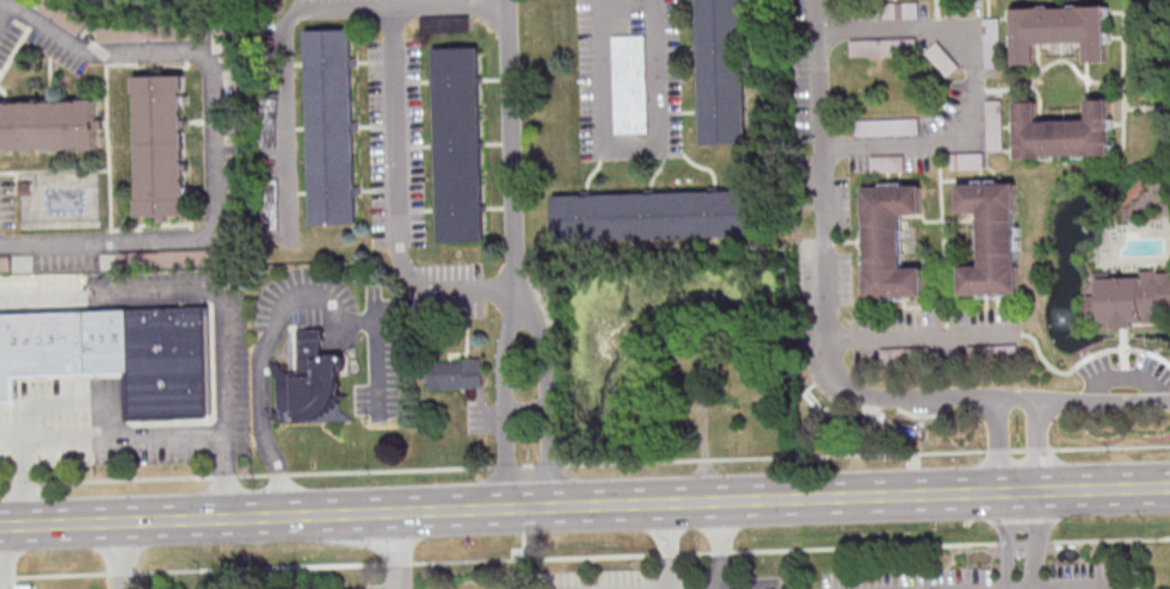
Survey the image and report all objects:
building: (901, 10)
road: (6, 15)
building: (63, 15)
road: (937, 15)
building: (445, 24)
building: (1060, 29)
building: (143, 32)
building: (991, 32)
road: (1115, 37)
road: (1123, 39)
building: (875, 45)
road: (1040, 56)
road: (1061, 60)
road: (287, 72)
building: (722, 72)
road: (1088, 80)
building: (632, 83)
road: (977, 91)
road: (1041, 99)
road: (1157, 106)
building: (267, 122)
road: (1116, 123)
building: (993, 124)
building: (49, 125)
building: (332, 125)
road: (1125, 125)
building: (1063, 131)
road: (393, 142)
road: (512, 142)
building: (460, 143)
building: (161, 144)
road: (629, 145)
road: (213, 148)
building: (966, 160)
building: (1147, 200)
building: (270, 204)
building: (652, 213)
road: (941, 219)
building: (993, 236)
building: (891, 240)
road: (846, 241)
road: (943, 241)
road: (860, 246)
building: (172, 256)
road: (943, 259)
building: (5, 263)
road: (516, 286)
road: (181, 297)
building: (1131, 298)
road: (1125, 335)
road: (922, 336)
building: (118, 355)
road: (377, 355)
road: (831, 355)
road: (1084, 359)
road: (263, 362)
road: (1126, 362)
building: (456, 373)
road: (1123, 377)
building: (309, 380)
road: (76, 405)
road: (121, 439)
road: (12, 440)
road: (1039, 444)
road: (995, 445)
road: (1111, 446)
road: (998, 448)
road: (1018, 448)
road: (1039, 448)
road: (848, 454)
road: (704, 459)
road: (632, 461)
road: (549, 463)
road: (509, 464)
road: (529, 464)
road: (393, 470)
road: (253, 473)
road: (279, 473)
road: (224, 475)
road: (105, 478)
road: (1106, 486)
road: (1018, 489)
road: (498, 508)
road: (1040, 538)
road: (1005, 539)
road: (1110, 540)
road: (1021, 541)
road: (1039, 541)
road: (1006, 542)
road: (671, 545)
road: (720, 545)
road: (867, 546)
road: (408, 550)
road: (721, 551)
road: (695, 553)
road: (123, 554)
road: (667, 554)
road: (2, 557)
road: (534, 558)
road: (400, 562)
road: (296, 566)
road: (170, 570)
road: (123, 572)
road: (63, 573)
road: (8, 576)

